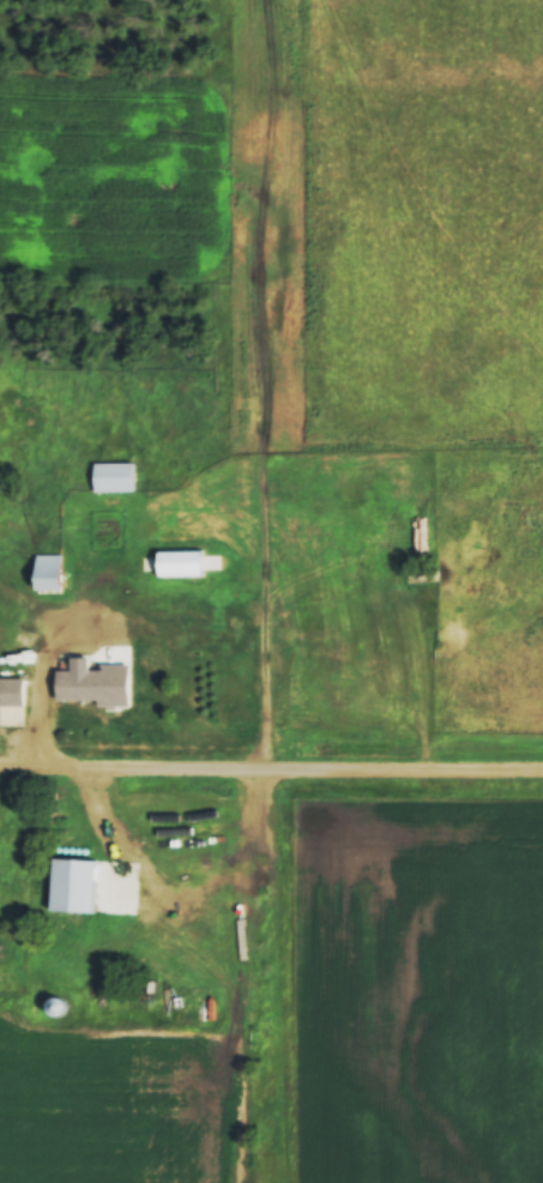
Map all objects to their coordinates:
road: (261, 466)
building: (113, 476)
building: (49, 571)
road: (84, 611)
building: (95, 684)
building: (12, 690)
road: (47, 714)
road: (271, 771)
road: (117, 856)
building: (73, 885)
building: (56, 1006)

